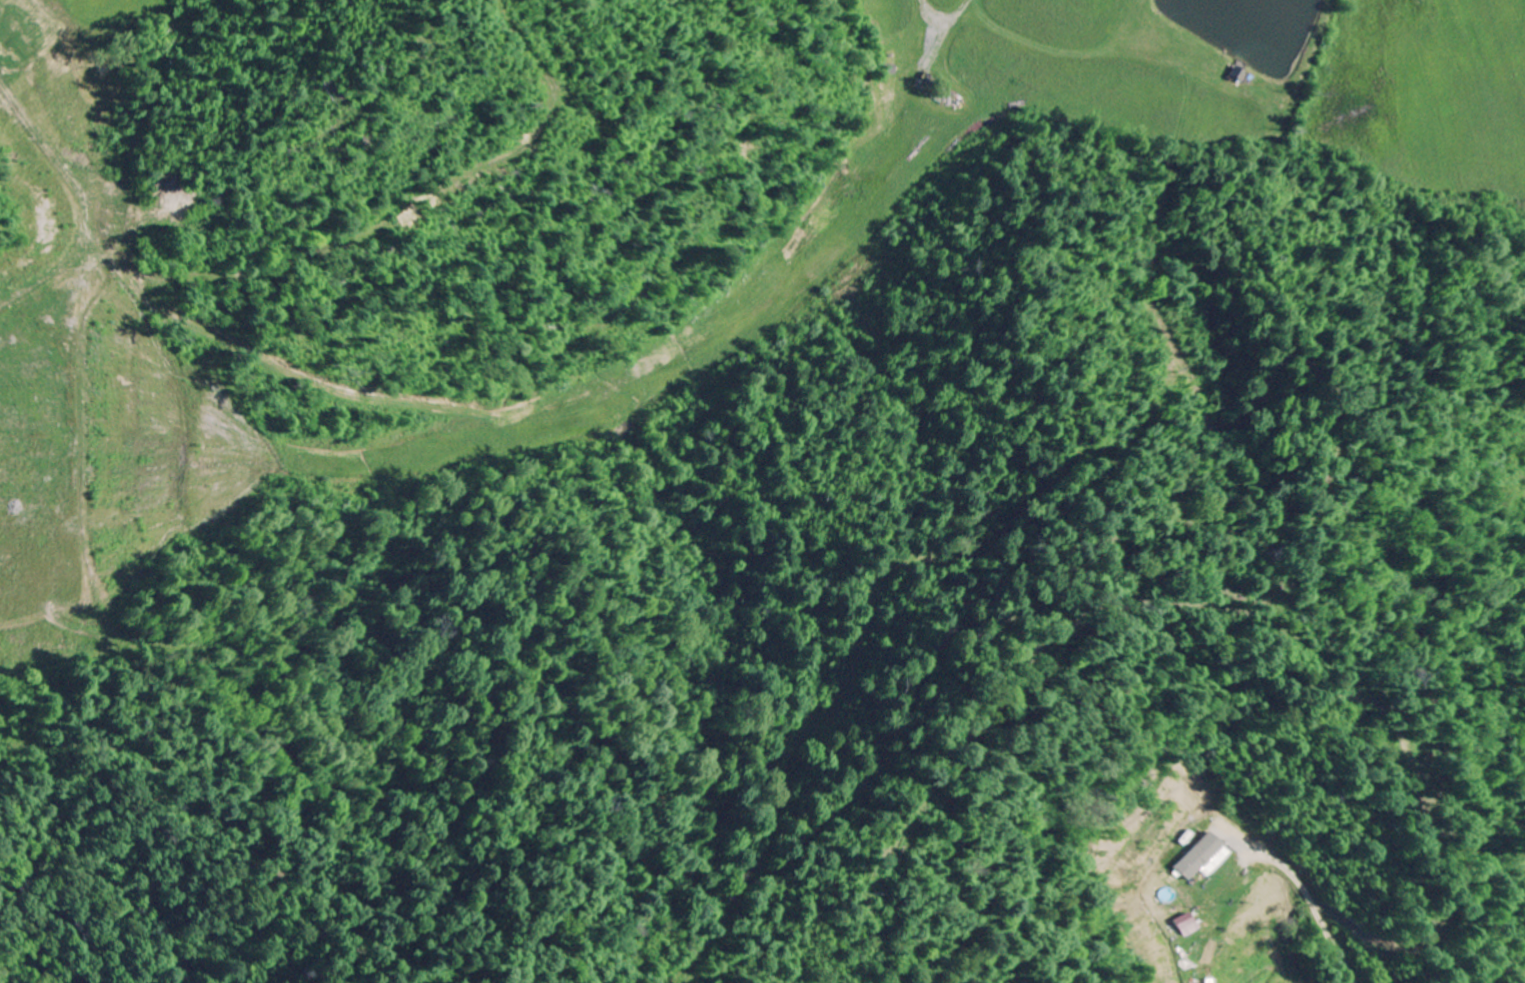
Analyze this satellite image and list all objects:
road: (951, 24)
building: (1241, 74)
building: (1196, 857)
building: (1185, 925)

